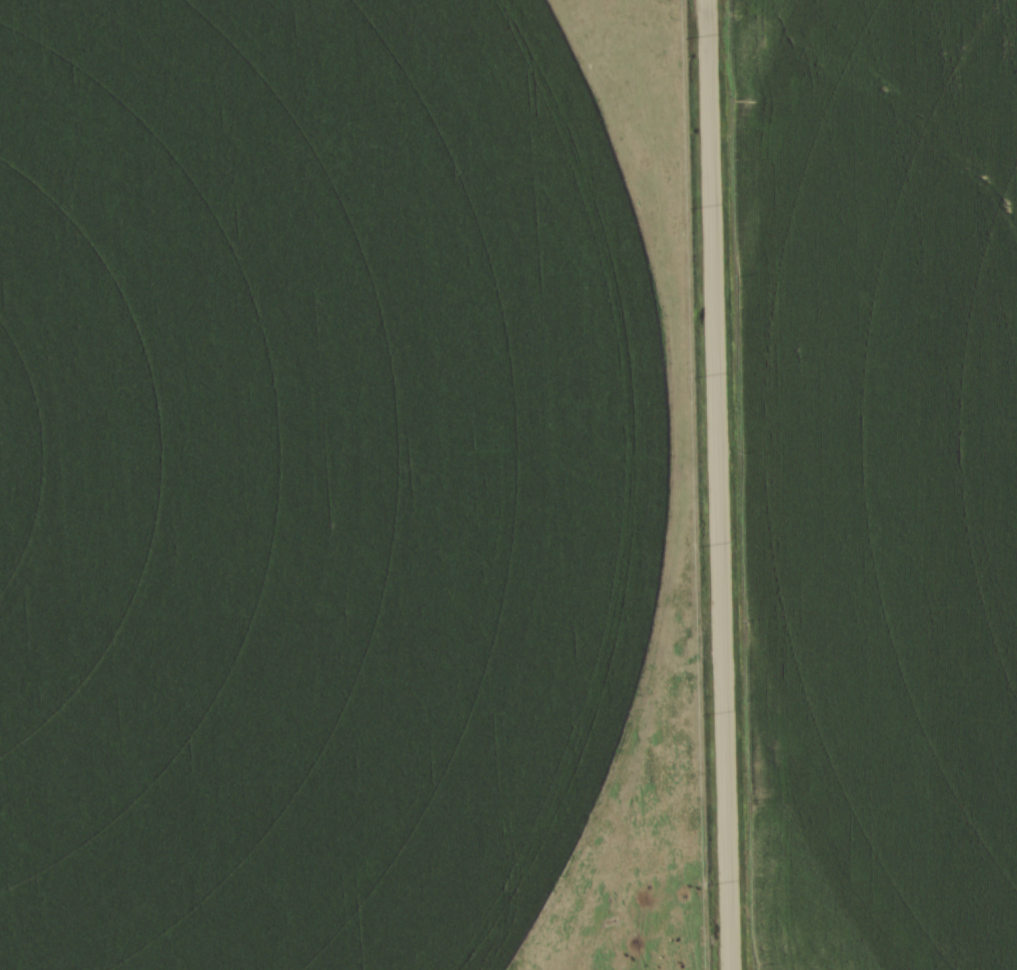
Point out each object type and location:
road: (720, 485)

